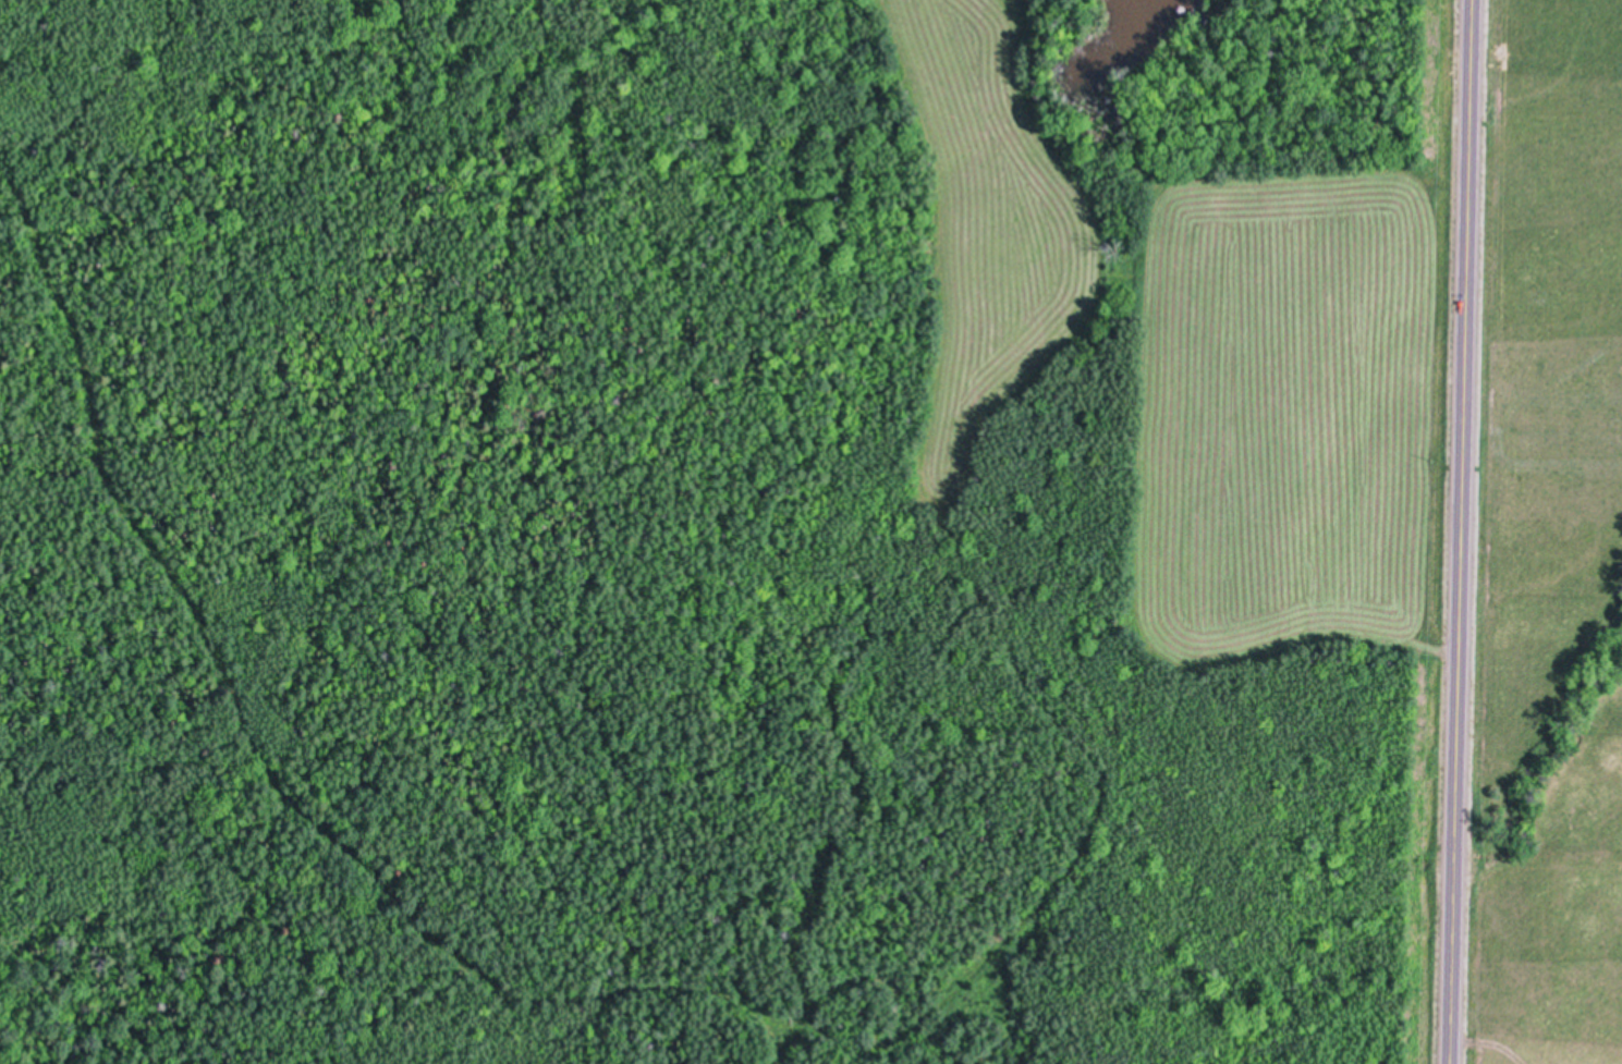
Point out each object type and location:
road: (1462, 531)

